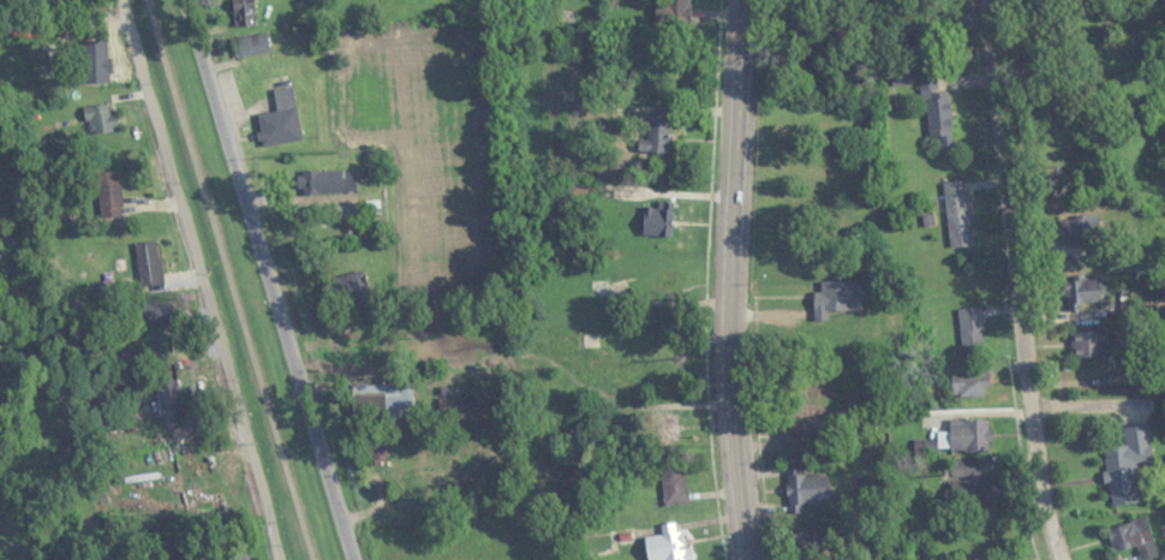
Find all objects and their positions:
building: (681, 7)
road: (61, 14)
building: (243, 14)
building: (252, 44)
building: (101, 68)
building: (937, 112)
building: (100, 119)
building: (281, 120)
building: (657, 136)
building: (107, 193)
building: (957, 214)
building: (1077, 230)
building: (149, 263)
road: (201, 279)
road: (268, 280)
road: (735, 280)
road: (1016, 280)
building: (346, 288)
building: (1082, 292)
building: (841, 296)
building: (155, 314)
building: (970, 328)
building: (1092, 344)
building: (969, 386)
building: (384, 400)
building: (171, 401)
building: (468, 409)
building: (799, 429)
building: (970, 435)
building: (1128, 464)
building: (472, 479)
building: (674, 484)
building: (806, 492)
building: (1134, 538)
building: (667, 547)
building: (1164, 559)

